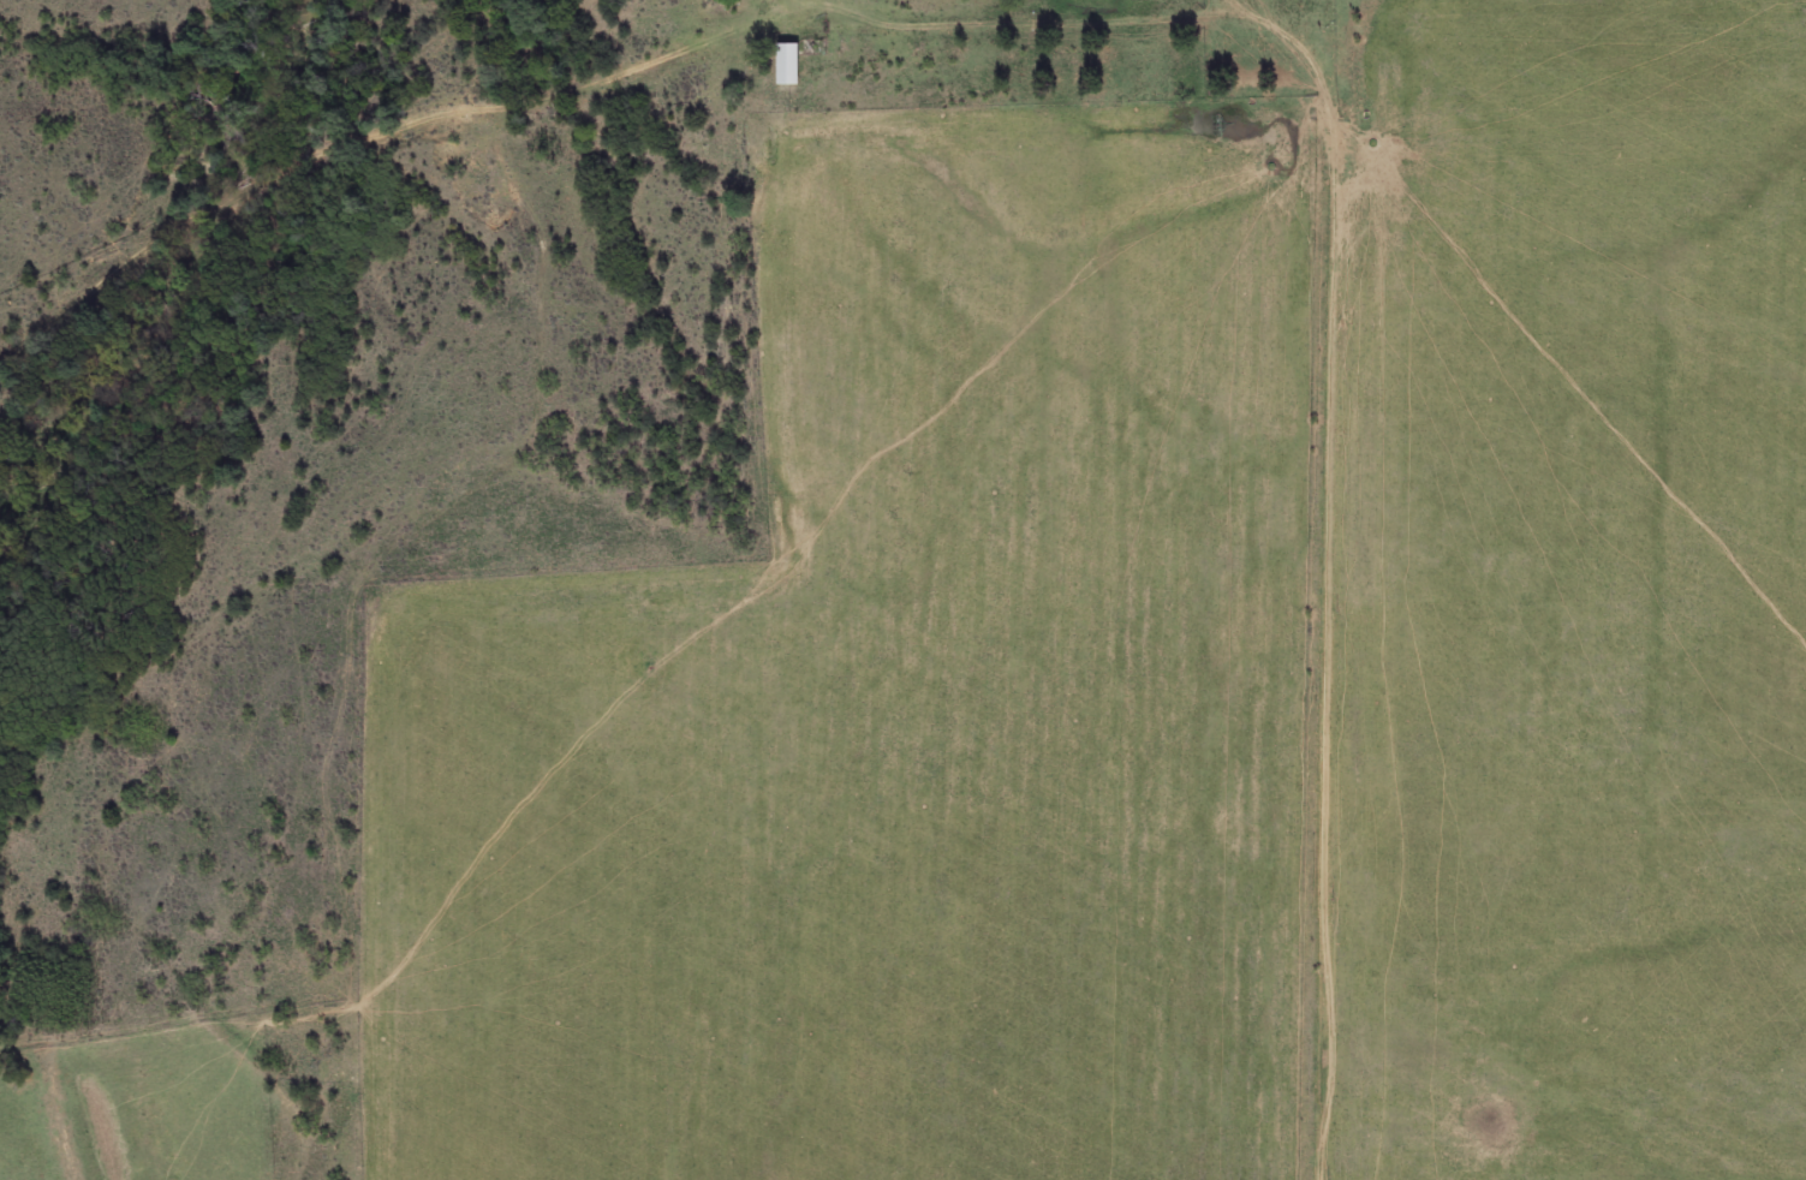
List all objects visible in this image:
road: (769, 5)
road: (582, 7)
building: (788, 66)
road: (1334, 565)

